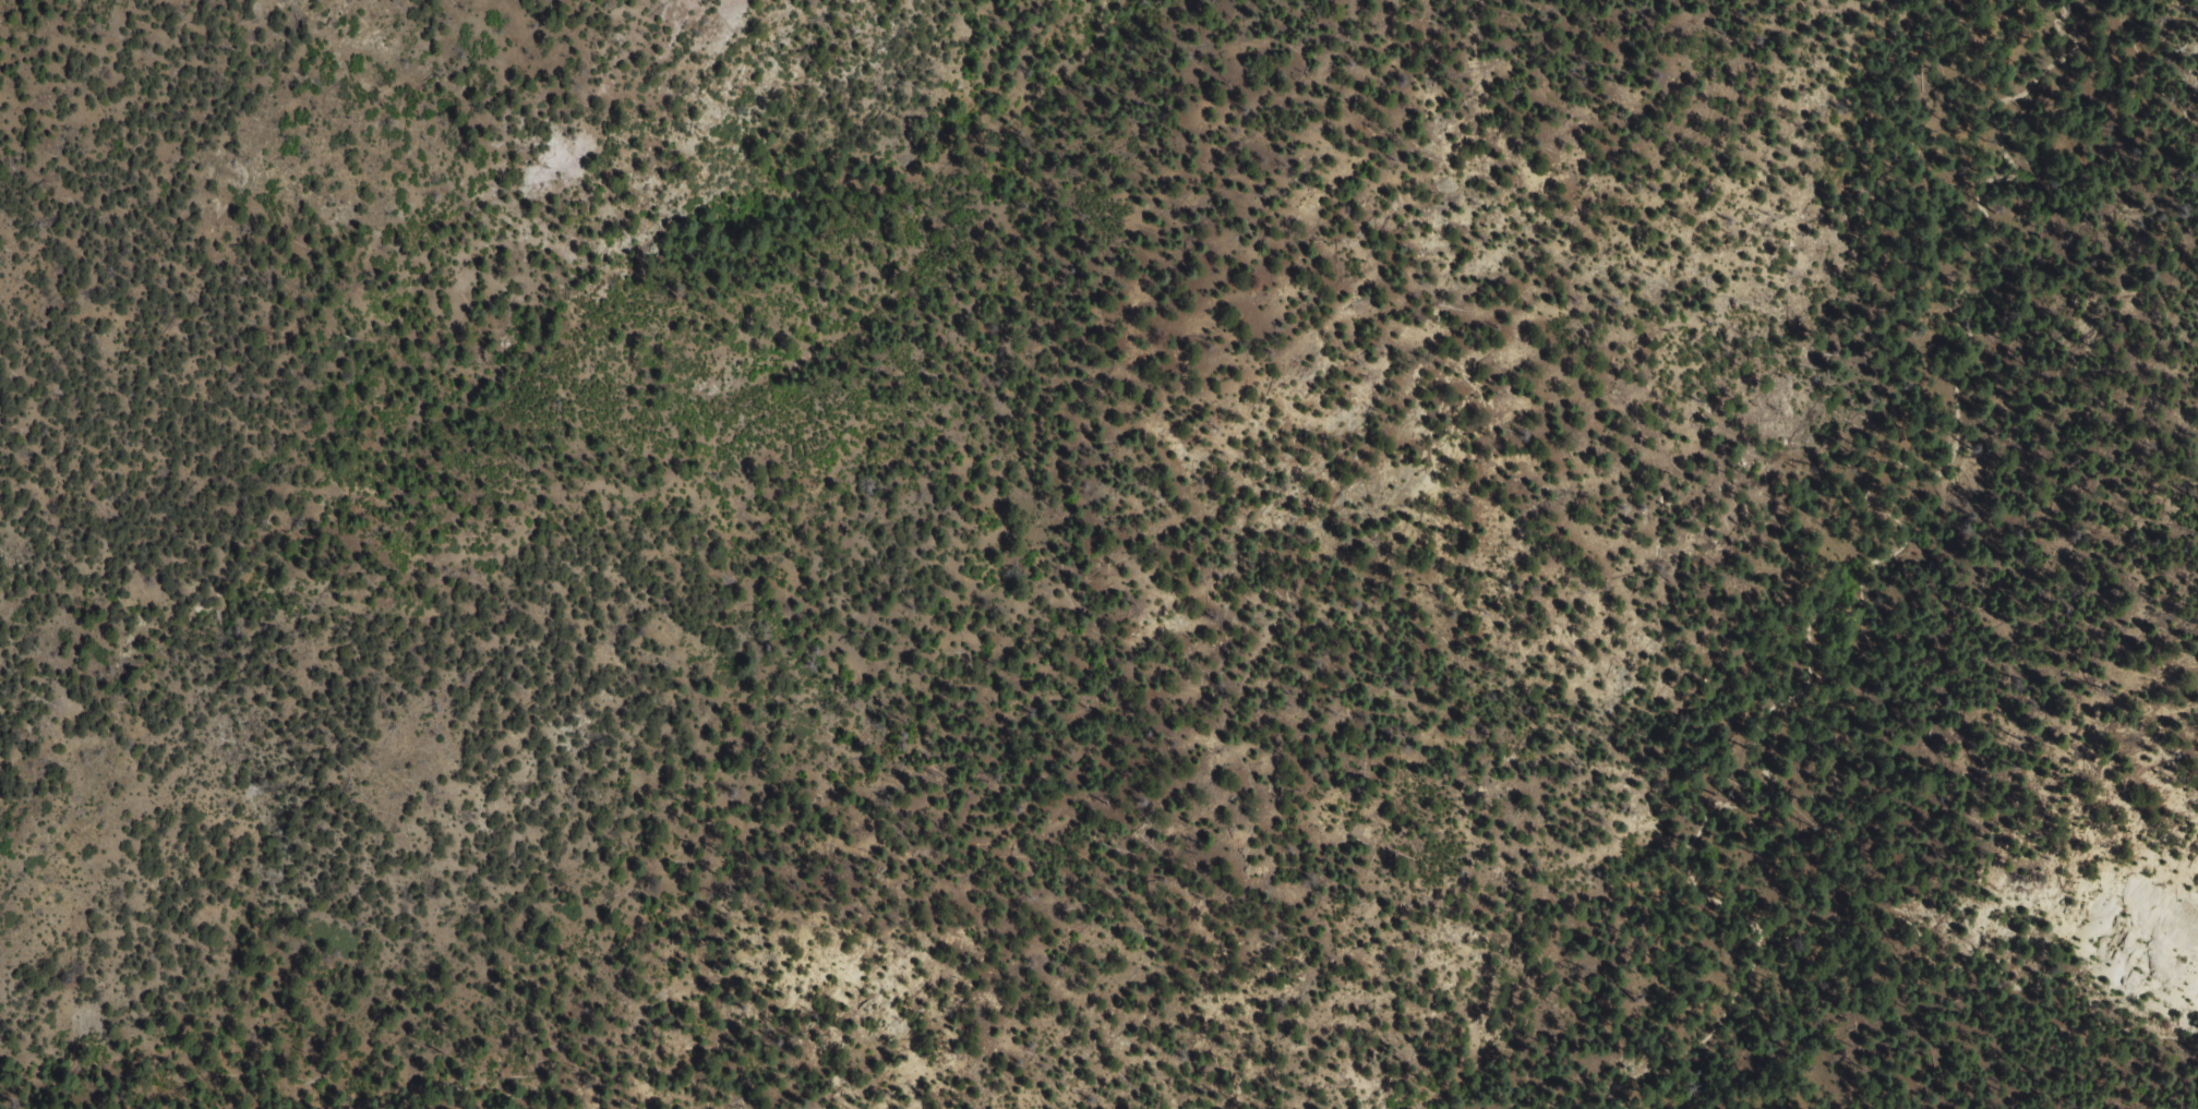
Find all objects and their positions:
road: (1811, 559)

